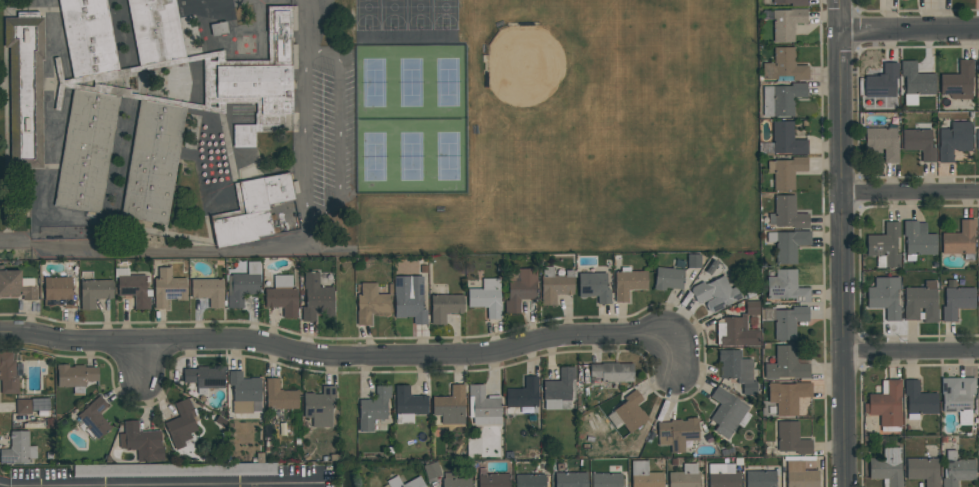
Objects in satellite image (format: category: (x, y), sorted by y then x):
building: (791, 2)
road: (6, 9)
road: (33, 10)
park: (407, 15)
building: (784, 22)
road: (317, 28)
road: (909, 30)
building: (156, 31)
building: (88, 37)
road: (185, 60)
building: (784, 65)
building: (978, 68)
building: (265, 78)
building: (882, 82)
building: (958, 82)
building: (916, 83)
road: (29, 84)
building: (26, 89)
building: (781, 99)
park: (411, 119)
road: (338, 128)
parking lot: (323, 130)
building: (244, 136)
road: (309, 138)
building: (786, 139)
building: (977, 139)
road: (8, 140)
building: (953, 140)
building: (882, 143)
building: (919, 143)
building: (87, 152)
road: (231, 159)
building: (153, 163)
building: (786, 171)
road: (910, 193)
road: (174, 196)
building: (254, 210)
building: (787, 213)
road: (188, 216)
building: (978, 224)
building: (959, 239)
building: (918, 240)
road: (841, 243)
building: (787, 245)
building: (884, 246)
road: (162, 252)
building: (693, 261)
building: (668, 278)
building: (629, 283)
building: (16, 285)
building: (242, 285)
building: (555, 285)
building: (594, 286)
building: (786, 287)
building: (133, 288)
building: (168, 288)
building: (520, 288)
building: (59, 291)
building: (208, 291)
building: (94, 292)
building: (715, 294)
building: (282, 296)
building: (316, 297)
building: (487, 297)
building: (884, 297)
building: (409, 298)
building: (920, 302)
building: (956, 302)
building: (370, 303)
building: (445, 307)
building: (752, 308)
building: (785, 321)
building: (736, 332)
road: (352, 355)
road: (911, 356)
building: (786, 364)
building: (737, 370)
building: (611, 372)
building: (9, 373)
building: (75, 376)
building: (204, 376)
building: (978, 387)
building: (559, 390)
building: (245, 393)
building: (523, 394)
building: (279, 396)
building: (787, 396)
building: (958, 397)
building: (919, 400)
building: (408, 404)
building: (319, 406)
building: (450, 406)
building: (483, 406)
building: (886, 406)
building: (23, 407)
building: (373, 408)
building: (630, 412)
building: (728, 413)
building: (94, 418)
building: (181, 424)
building: (677, 433)
building: (791, 439)
building: (142, 442)
building: (17, 449)
building: (887, 467)
building: (174, 470)
building: (431, 470)
building: (957, 470)
building: (923, 471)
building: (800, 475)
building: (644, 476)
building: (723, 476)
building: (684, 477)
building: (417, 479)
building: (571, 479)
building: (760, 479)
building: (493, 480)
building: (530, 480)
building: (607, 480)
building: (454, 481)
road: (159, 485)

